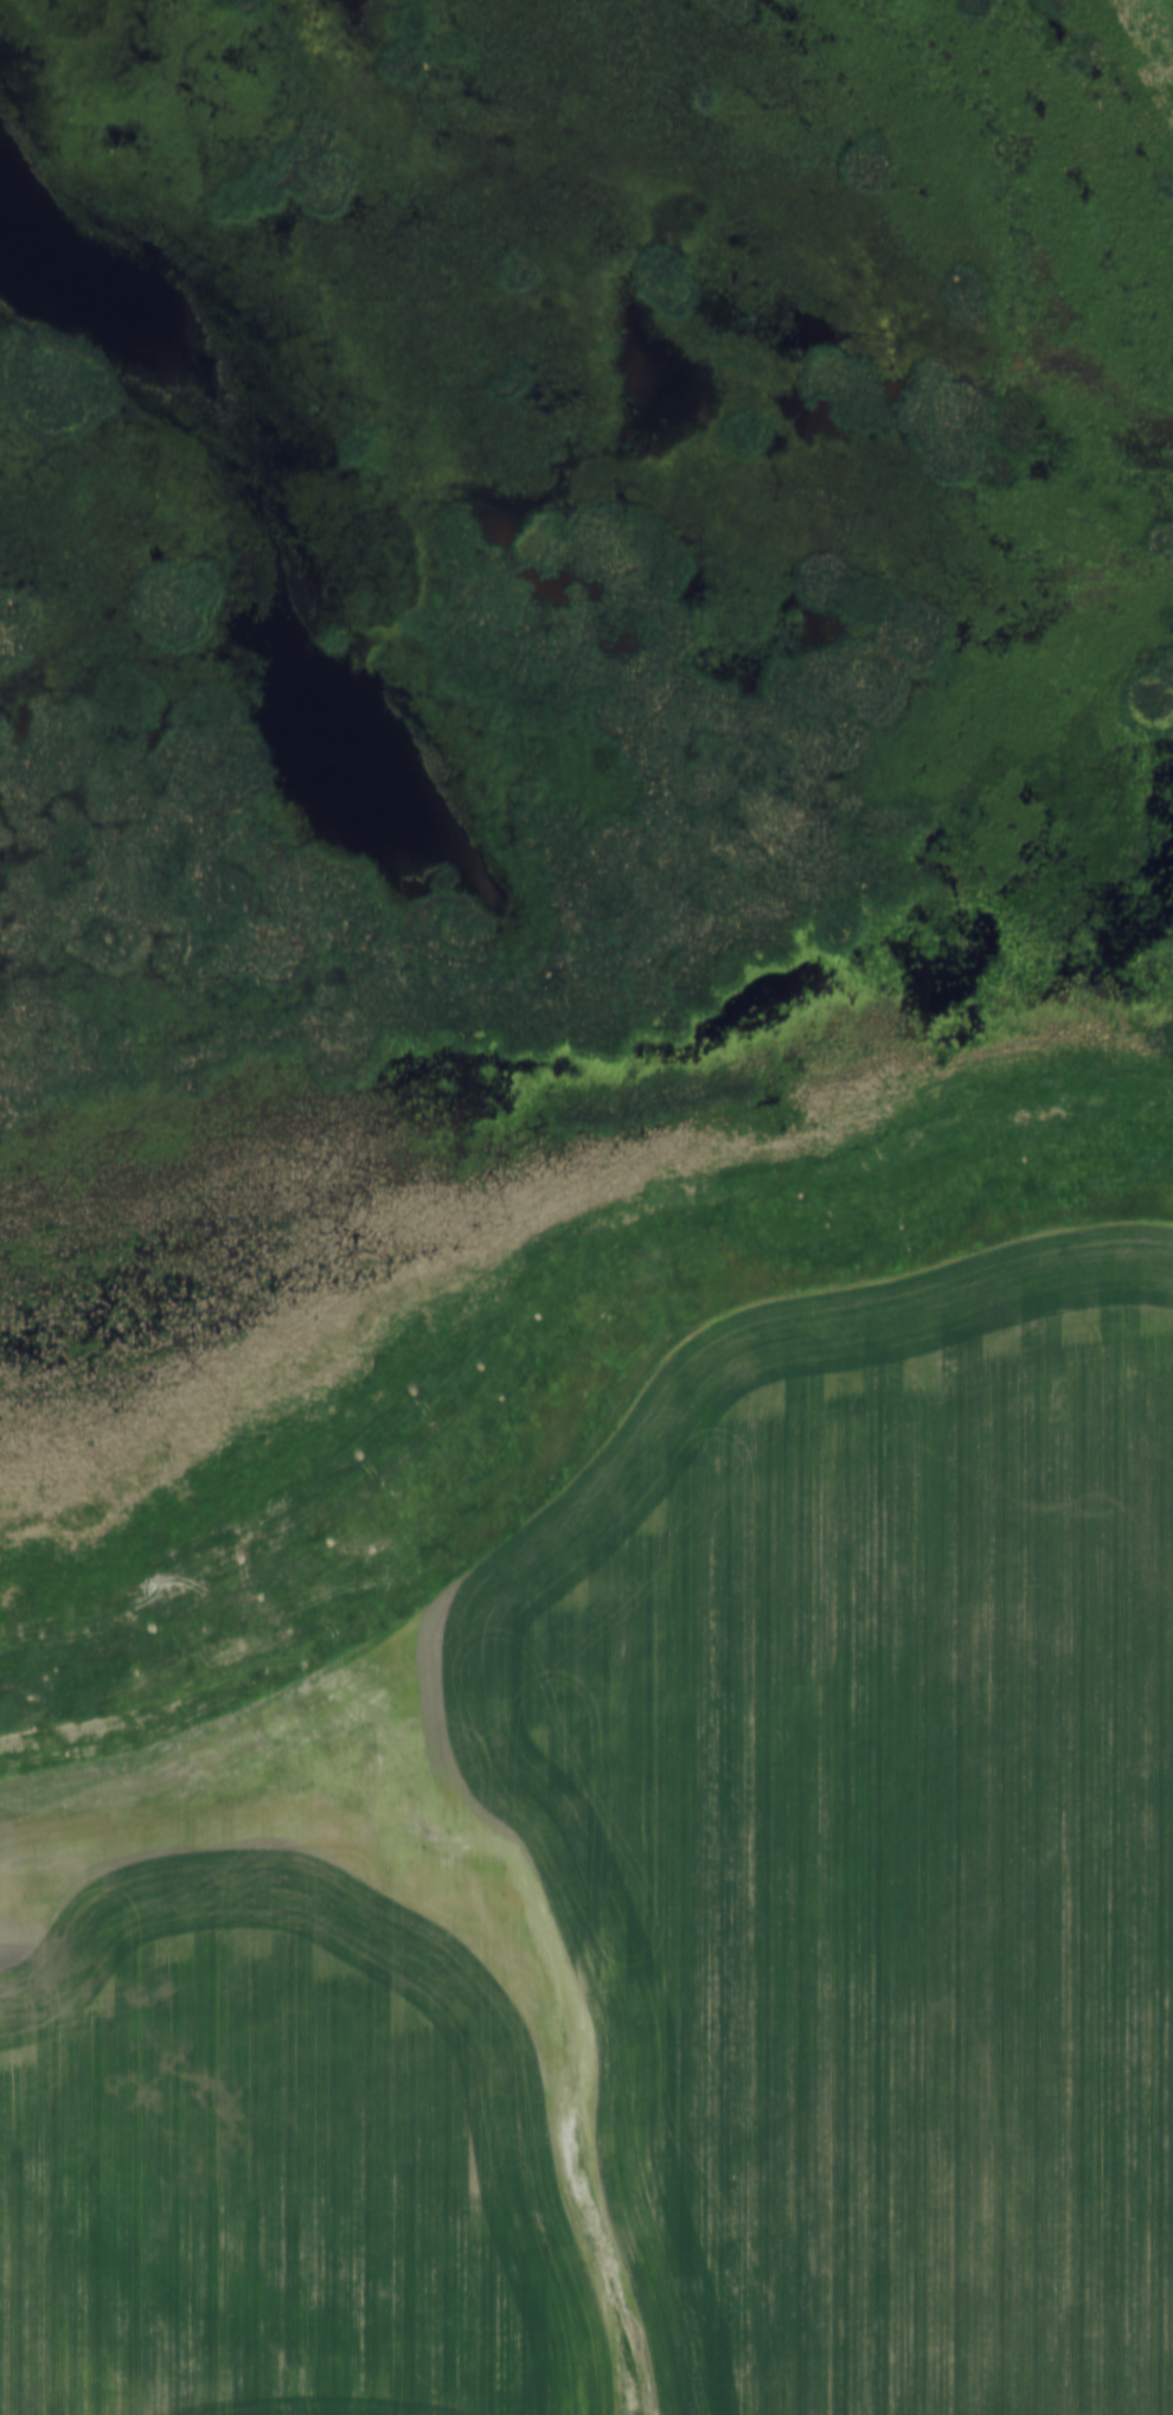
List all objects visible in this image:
building: (389, 1327)
building: (27, 1510)

